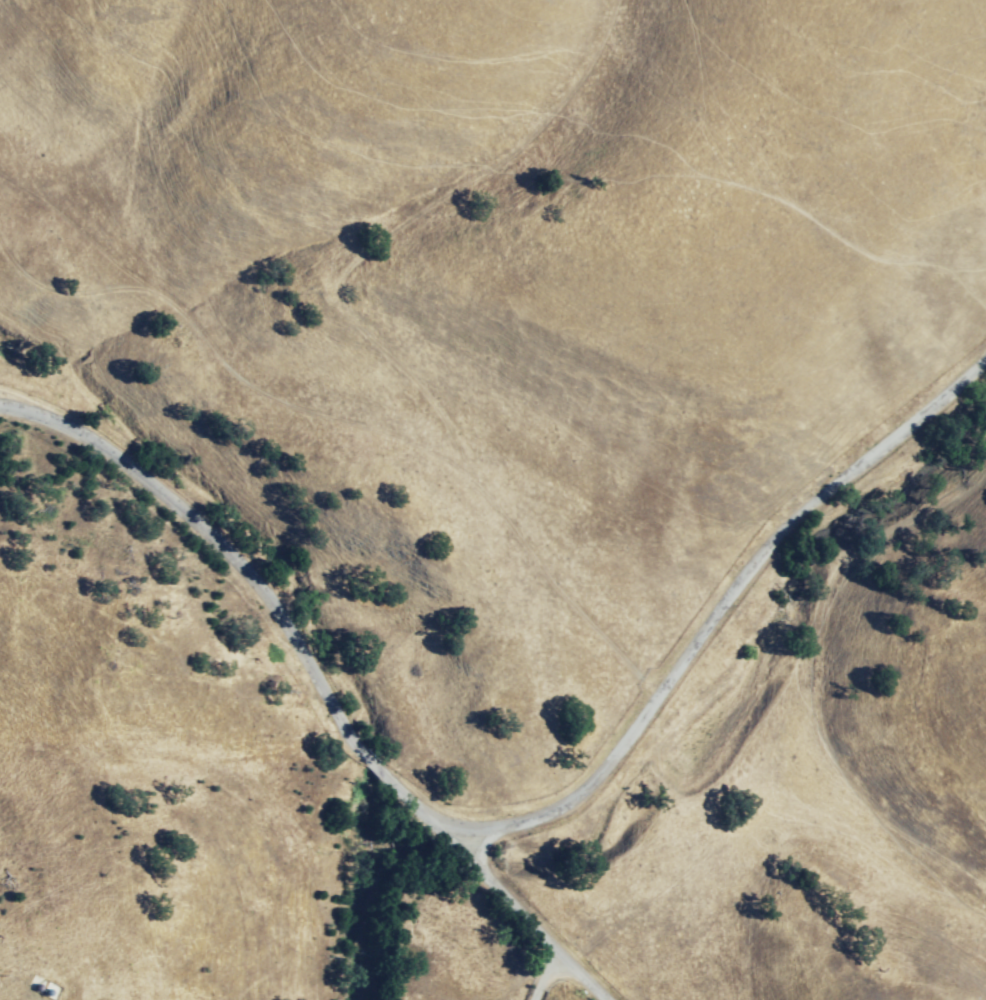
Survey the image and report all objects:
road: (124, 792)
road: (510, 816)
road: (503, 903)
road: (517, 974)
road: (537, 976)
building: (50, 991)

